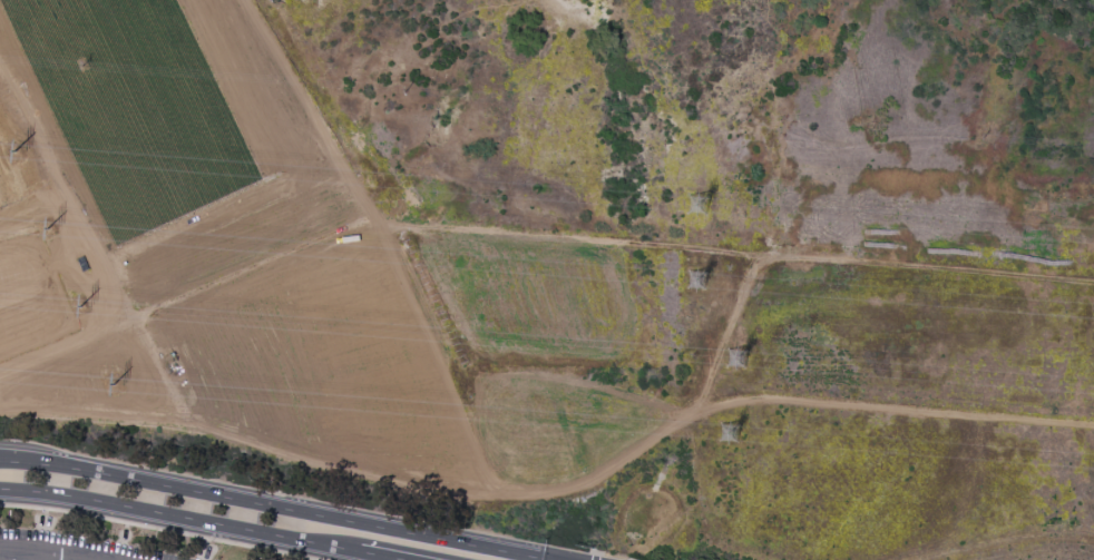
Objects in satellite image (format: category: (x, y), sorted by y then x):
crop: (133, 108)
power tower: (22, 155)
crop: (2, 198)
power tower: (700, 210)
power tower: (53, 233)
road: (839, 262)
power tower: (705, 285)
road: (22, 292)
power tower: (85, 311)
power tower: (731, 364)
power tower: (117, 386)
power tower: (735, 435)
road: (554, 491)
road: (273, 507)
road: (179, 518)
road: (158, 529)
road: (35, 554)
road: (14, 557)
road: (377, 557)
road: (595, 557)
road: (612, 557)
road: (37, 558)

